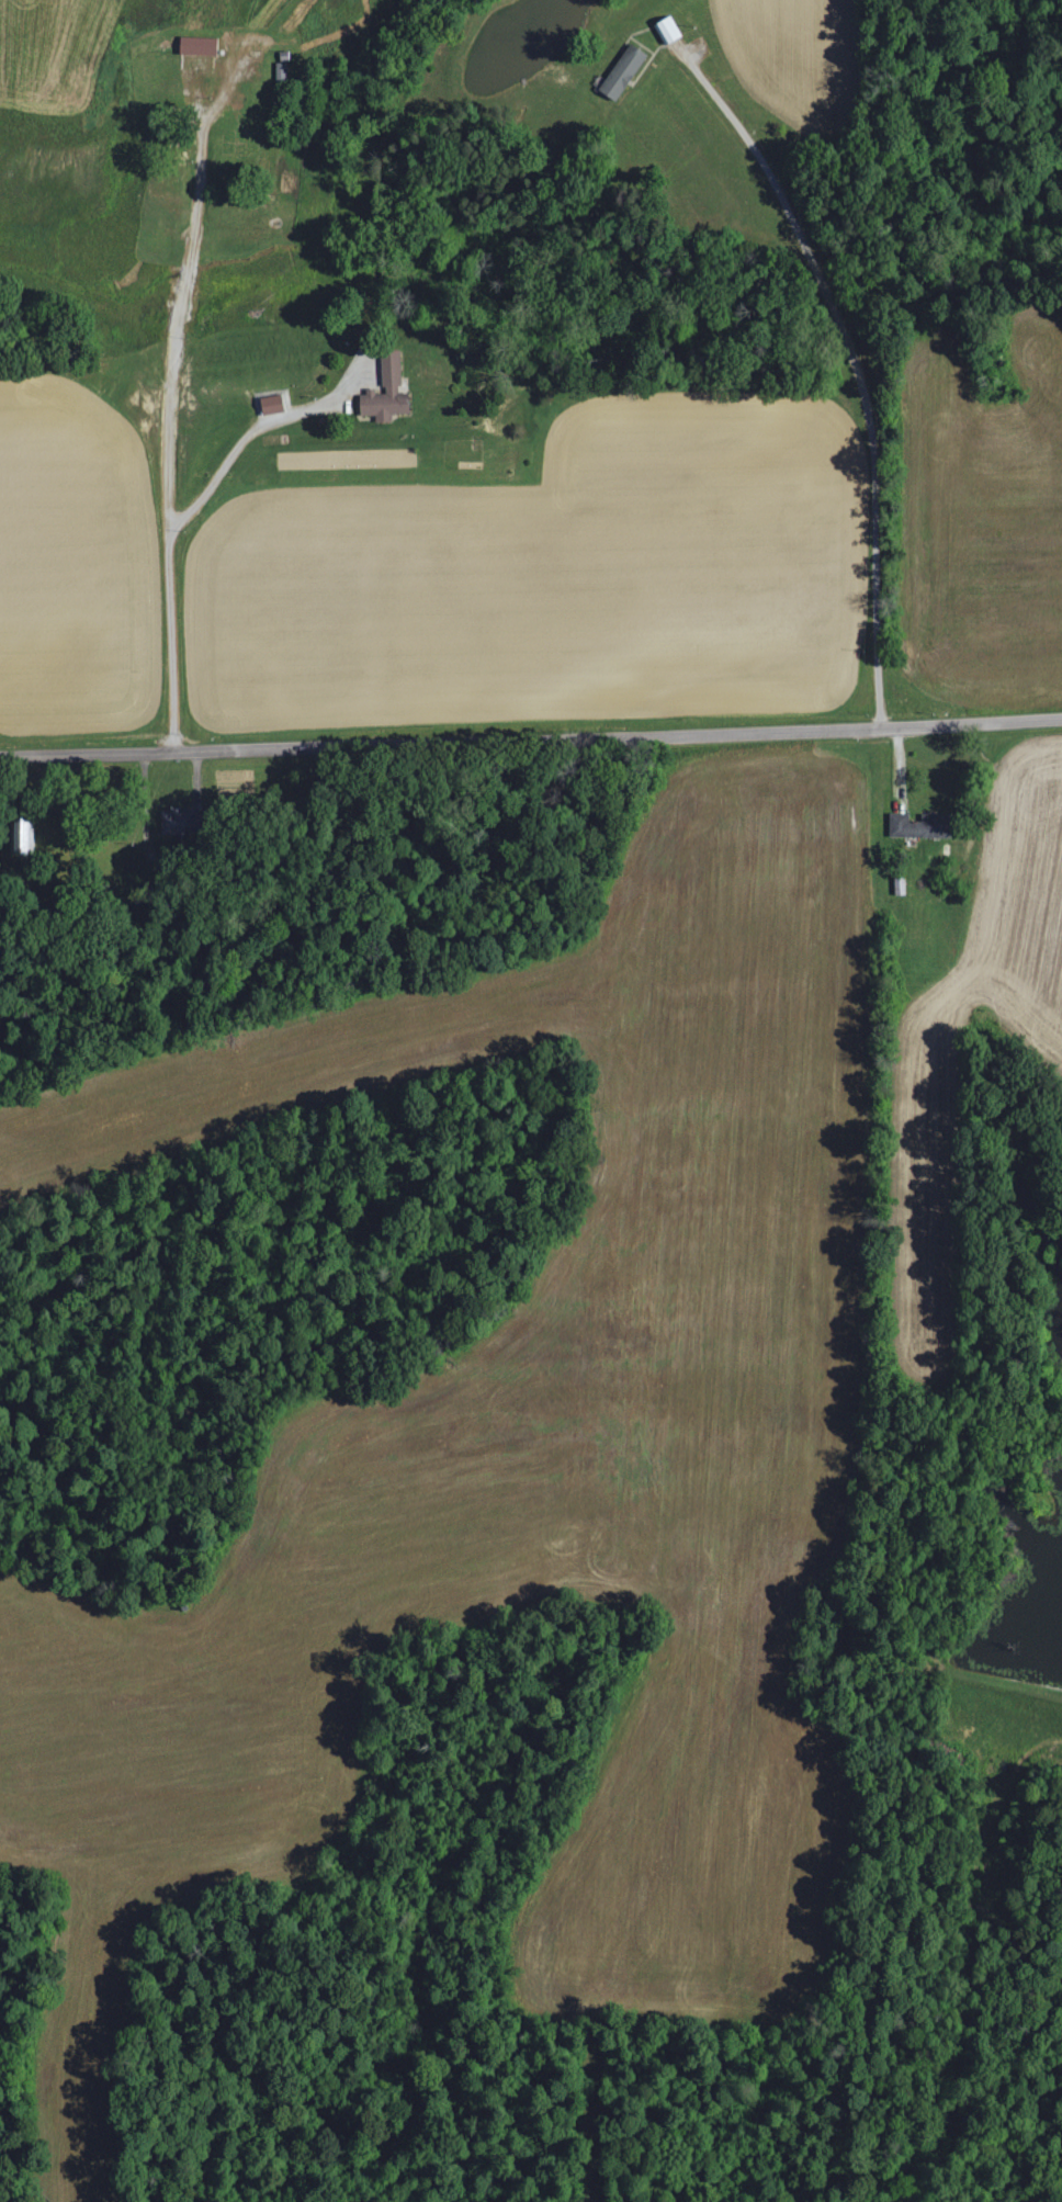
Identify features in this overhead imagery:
building: (667, 30)
building: (196, 46)
building: (281, 71)
building: (621, 72)
road: (849, 361)
building: (385, 391)
building: (271, 403)
road: (172, 410)
road: (256, 428)
road: (531, 741)
building: (177, 820)
building: (918, 825)
building: (24, 835)

